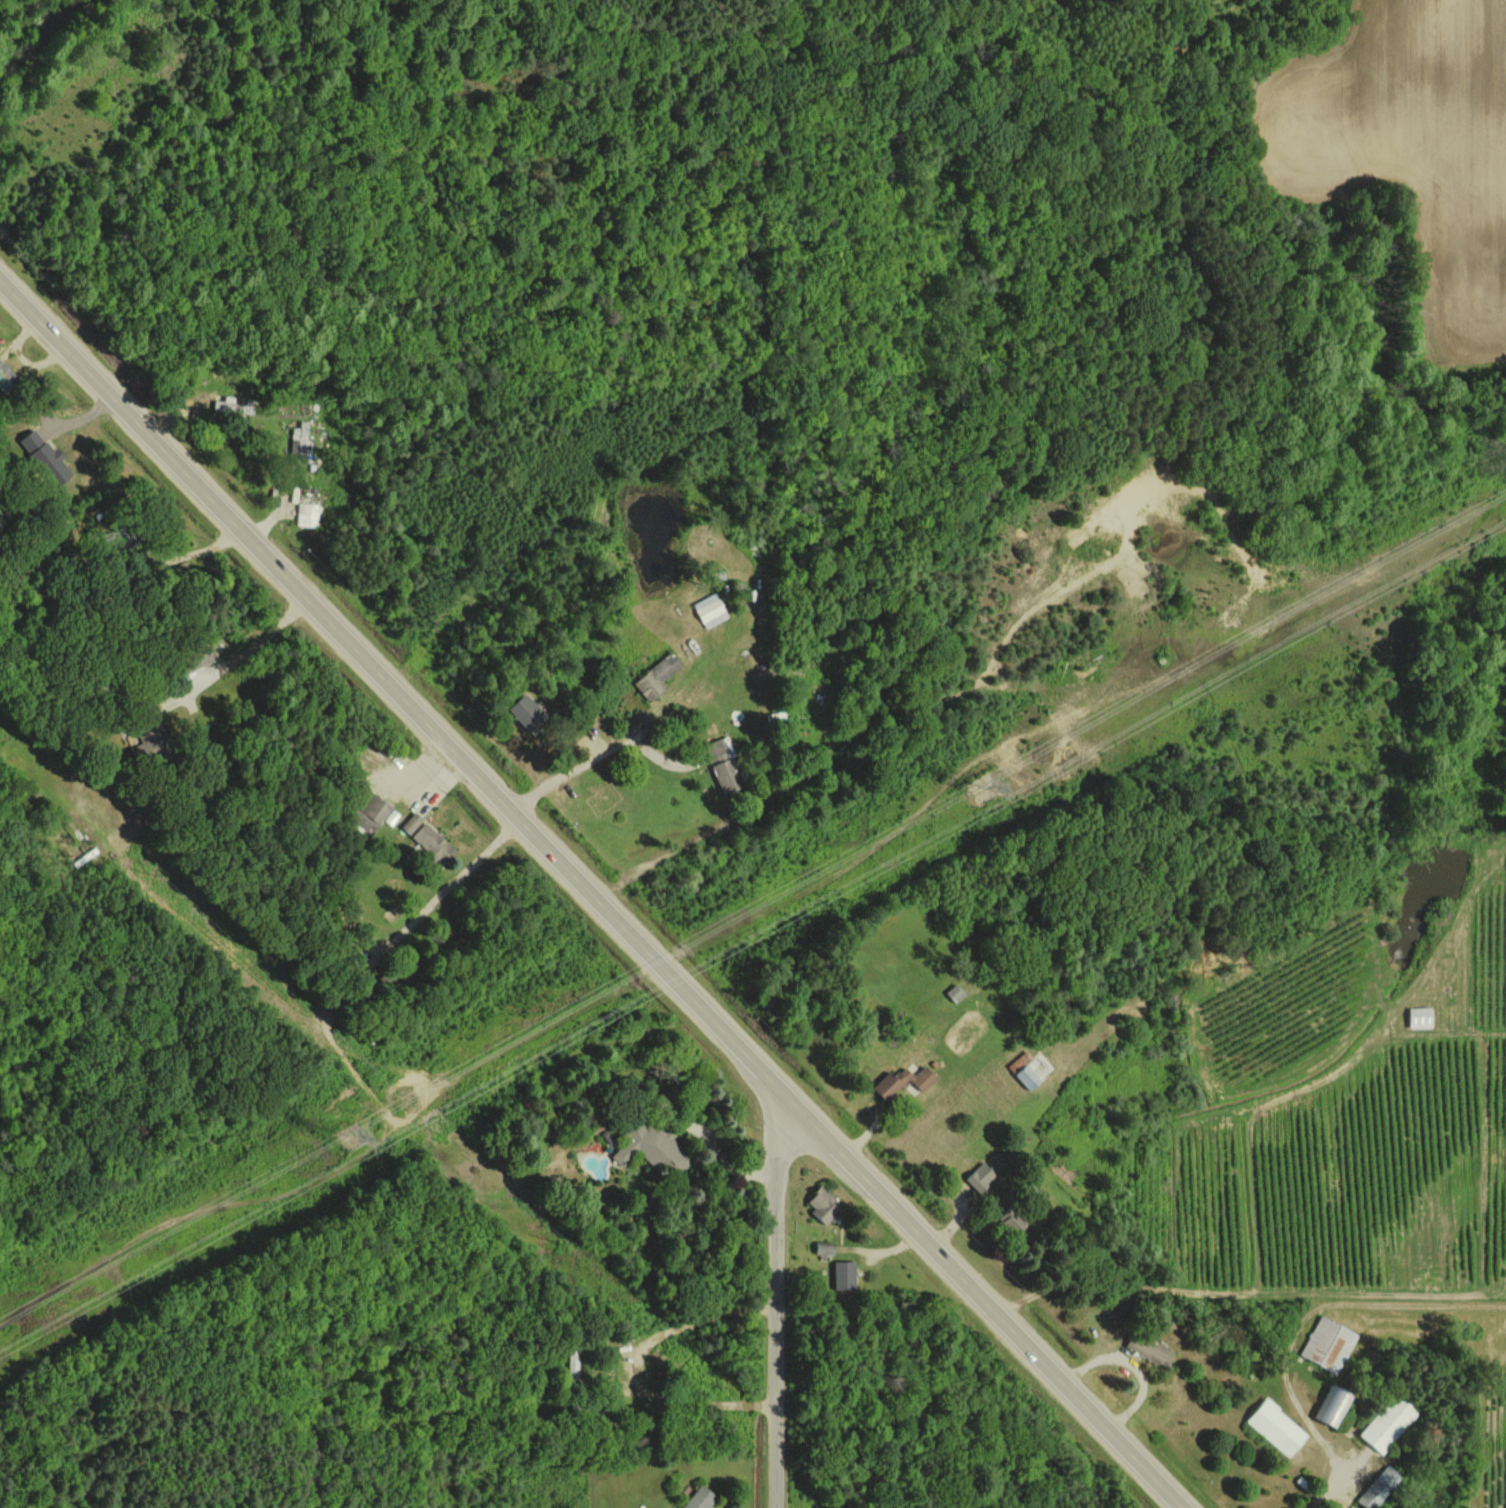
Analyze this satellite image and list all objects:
building: (225, 404)
building: (300, 438)
building: (43, 456)
building: (307, 514)
road: (183, 557)
building: (710, 610)
road: (249, 646)
building: (657, 677)
building: (527, 712)
building: (723, 766)
road: (573, 771)
power tower: (990, 784)
building: (428, 838)
road: (449, 880)
road: (589, 890)
building: (955, 993)
building: (1421, 1017)
building: (1026, 1069)
building: (902, 1081)
power tower: (354, 1136)
building: (610, 1136)
building: (651, 1146)
building: (980, 1176)
building: (823, 1204)
building: (1011, 1219)
building: (824, 1248)
building: (844, 1274)
road: (767, 1292)
building: (1328, 1343)
building: (1148, 1348)
road: (635, 1362)
building: (1332, 1404)
building: (1387, 1422)
building: (1276, 1426)
road: (1333, 1479)
building: (1378, 1487)
building: (699, 1497)

